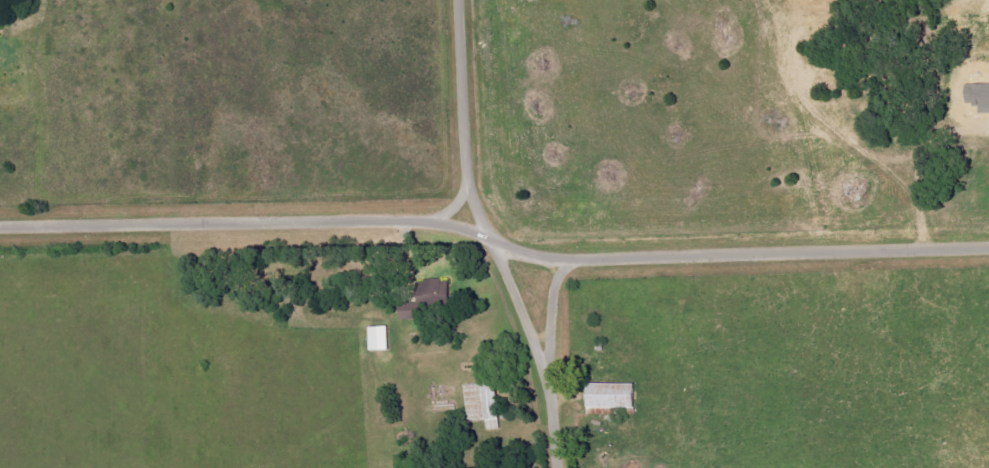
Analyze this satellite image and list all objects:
building: (978, 97)
road: (464, 107)
road: (493, 235)
building: (428, 298)
road: (550, 315)
building: (380, 339)
road: (534, 351)
building: (611, 397)
building: (483, 404)

